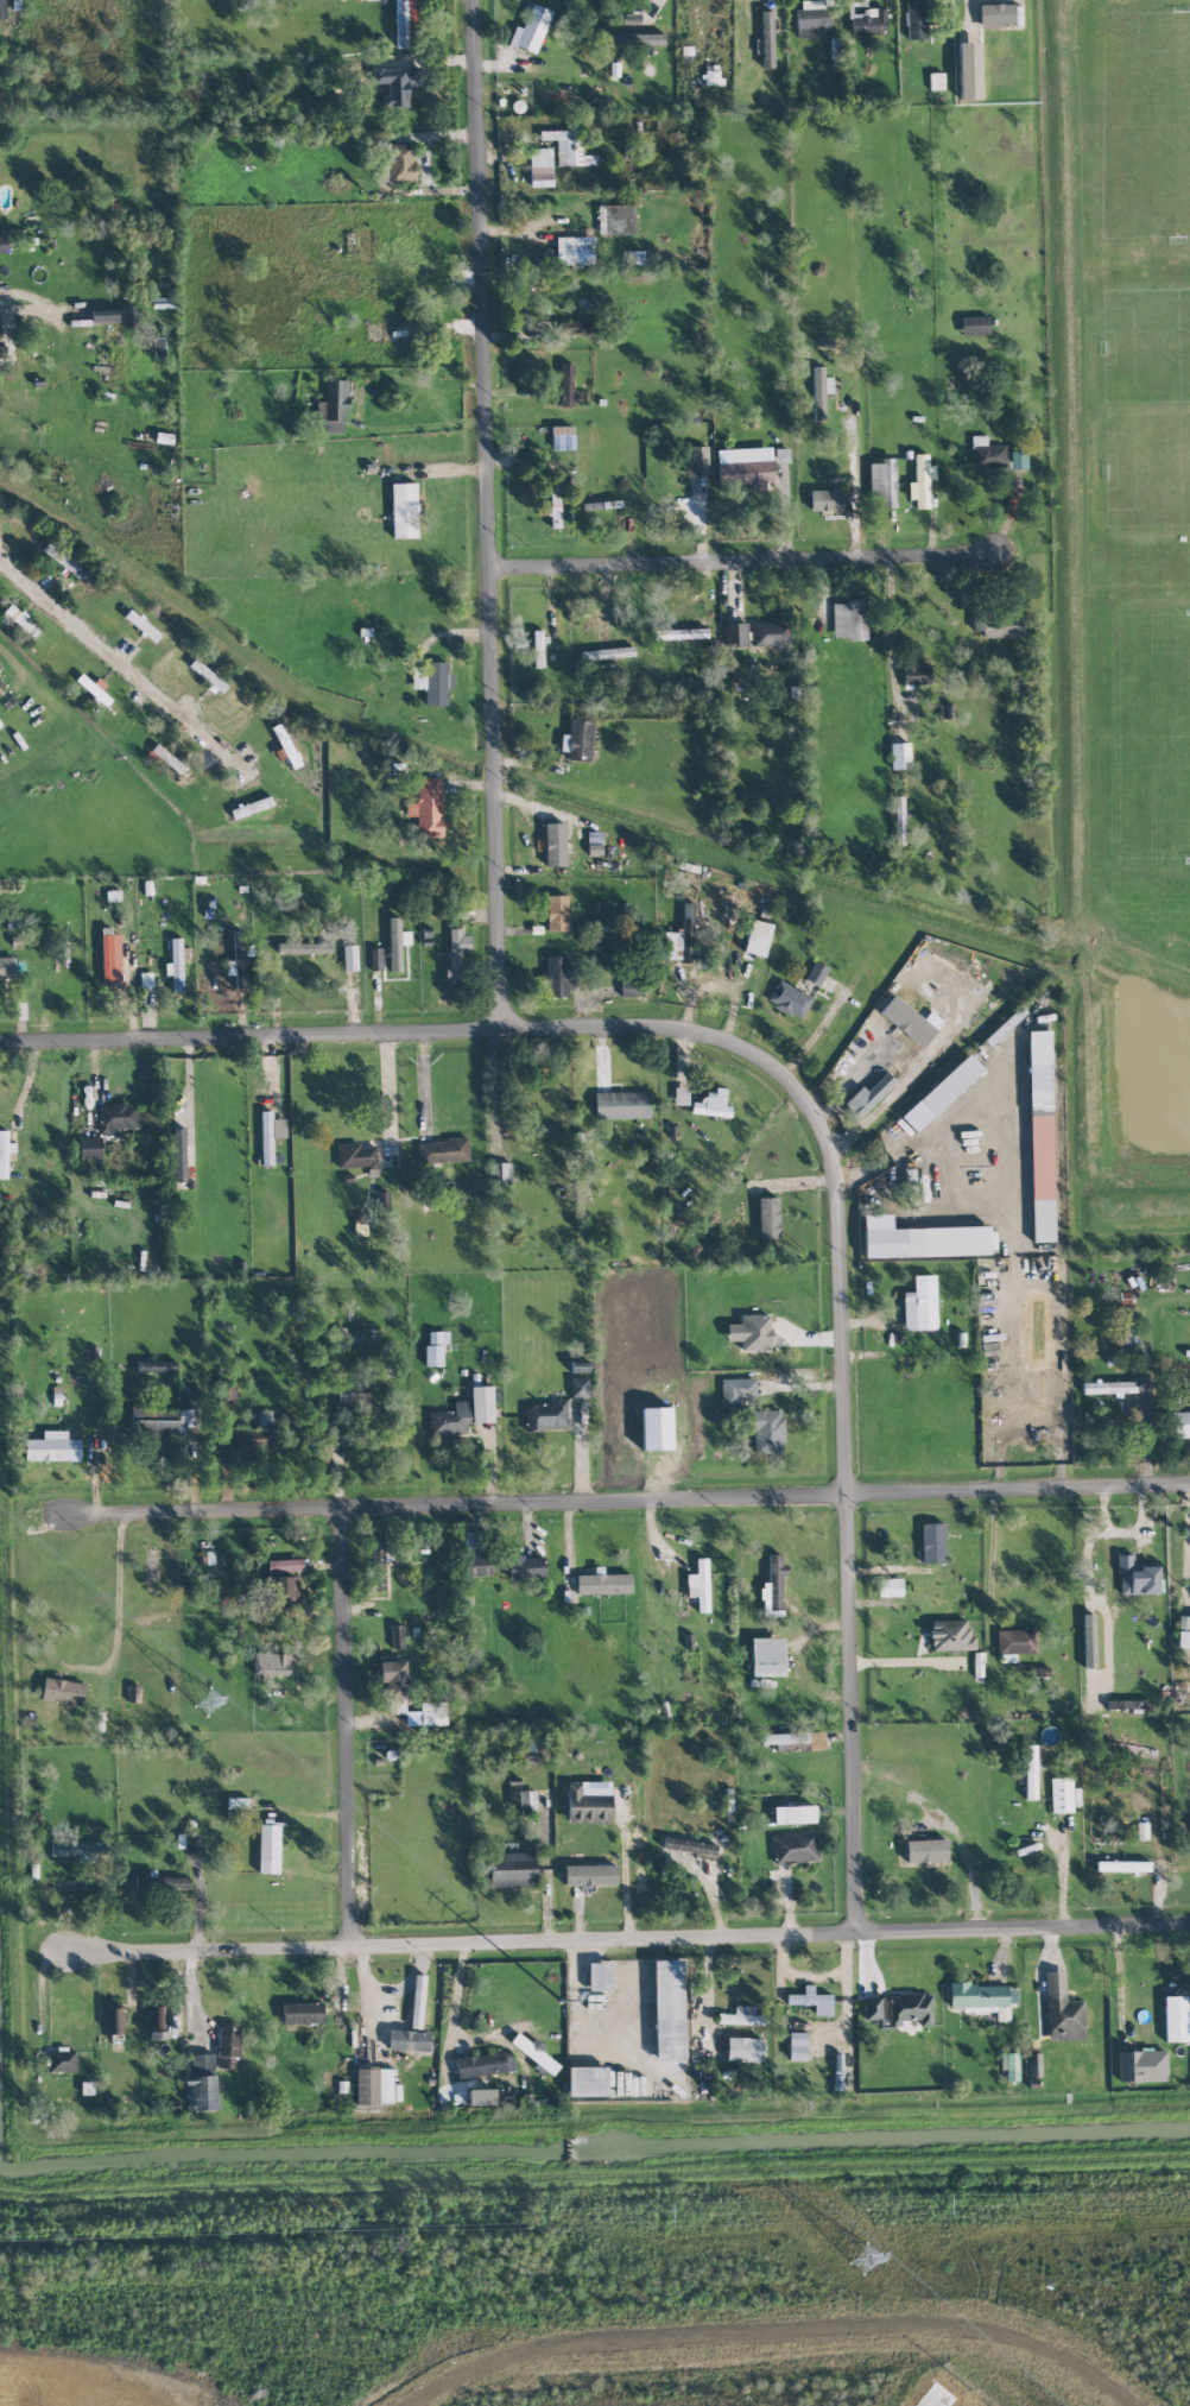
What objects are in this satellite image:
building: (366, 0)
building: (2, 10)
building: (632, 18)
building: (809, 18)
building: (914, 19)
building: (868, 21)
building: (406, 24)
building: (530, 30)
building: (637, 39)
building: (766, 39)
building: (968, 70)
building: (936, 82)
building: (395, 84)
building: (558, 96)
building: (569, 147)
road: (423, 162)
building: (400, 163)
building: (540, 166)
building: (615, 219)
building: (2, 244)
building: (574, 251)
road: (25, 312)
building: (103, 316)
building: (974, 326)
building: (576, 327)
building: (2, 349)
building: (566, 385)
building: (819, 392)
building: (333, 408)
road: (424, 425)
building: (562, 437)
building: (986, 453)
building: (781, 455)
building: (1017, 460)
building: (696, 461)
building: (746, 467)
road: (795, 478)
building: (881, 481)
building: (920, 481)
building: (825, 499)
building: (555, 501)
building: (404, 510)
road: (493, 513)
building: (63, 560)
road: (747, 563)
park: (1118, 611)
road: (891, 619)
building: (849, 620)
building: (999, 625)
building: (679, 633)
building: (771, 633)
building: (735, 634)
building: (539, 646)
building: (606, 653)
road: (7, 656)
road: (115, 664)
building: (0, 665)
building: (916, 674)
building: (207, 675)
building: (432, 682)
building: (0, 683)
building: (577, 740)
building: (899, 756)
building: (428, 807)
building: (899, 815)
building: (555, 844)
building: (557, 912)
building: (679, 937)
building: (757, 939)
building: (395, 943)
building: (304, 947)
building: (456, 954)
building: (108, 958)
building: (349, 958)
building: (375, 959)
building: (239, 960)
building: (177, 964)
building: (7, 967)
building: (816, 973)
building: (557, 977)
building: (145, 979)
building: (631, 987)
building: (789, 999)
road: (386, 1088)
road: (490, 1088)
building: (681, 1095)
building: (868, 1095)
building: (931, 1100)
building: (711, 1104)
road: (810, 1104)
road: (188, 1105)
building: (622, 1105)
building: (116, 1117)
road: (1001, 1126)
building: (270, 1133)
building: (1040, 1136)
building: (89, 1148)
building: (442, 1150)
building: (5, 1153)
building: (179, 1155)
building: (356, 1156)
building: (500, 1174)
building: (381, 1200)
building: (768, 1218)
building: (920, 1239)
building: (919, 1305)
building: (754, 1332)
building: (336, 1337)
building: (435, 1346)
building: (156, 1366)
building: (578, 1387)
building: (1108, 1387)
building: (224, 1389)
building: (738, 1393)
building: (353, 1394)
building: (463, 1414)
building: (545, 1416)
building: (164, 1417)
building: (264, 1419)
building: (1179, 1425)
building: (656, 1428)
building: (767, 1431)
road: (1027, 1431)
building: (52, 1447)
road: (626, 1503)
road: (1120, 1536)
building: (932, 1542)
road: (1186, 1542)
road: (992, 1548)
building: (479, 1565)
building: (285, 1566)
building: (525, 1567)
building: (1137, 1575)
building: (602, 1583)
building: (698, 1585)
building: (773, 1586)
building: (890, 1587)
building: (286, 1589)
road: (118, 1590)
building: (1183, 1630)
building: (950, 1635)
building: (398, 1636)
building: (1015, 1641)
building: (767, 1656)
road: (905, 1660)
building: (271, 1663)
building: (393, 1679)
building: (62, 1691)
power tower: (203, 1697)
building: (432, 1713)
road: (347, 1729)
building: (795, 1741)
building: (1115, 1747)
building: (532, 1751)
building: (1030, 1772)
building: (1061, 1794)
building: (523, 1801)
building: (236, 1802)
building: (587, 1806)
building: (797, 1814)
road: (945, 1821)
building: (189, 1842)
building: (689, 1845)
building: (268, 1848)
building: (795, 1848)
building: (925, 1850)
building: (1122, 1865)
road: (545, 1868)
building: (512, 1869)
road: (624, 1871)
building: (590, 1875)
road: (1061, 1876)
building: (167, 1882)
power tower: (441, 1899)
road: (626, 1940)
building: (599, 1976)
road: (1118, 1979)
building: (982, 1997)
building: (811, 2000)
building: (872, 2008)
building: (910, 2008)
building: (667, 2009)
building: (1062, 2010)
building: (302, 2013)
building: (742, 2016)
building: (1175, 2017)
building: (115, 2020)
building: (409, 2040)
building: (228, 2046)
building: (797, 2046)
building: (743, 2048)
building: (534, 2054)
building: (62, 2060)
building: (483, 2064)
building: (1009, 2065)
building: (1033, 2065)
building: (1133, 2065)
building: (587, 2080)
building: (202, 2082)
building: (373, 2085)
building: (508, 2095)
building: (481, 2096)
power tower: (672, 2096)
power tower: (967, 2205)
power tower: (635, 2216)
power tower: (305, 2227)
power tower: (836, 2234)

